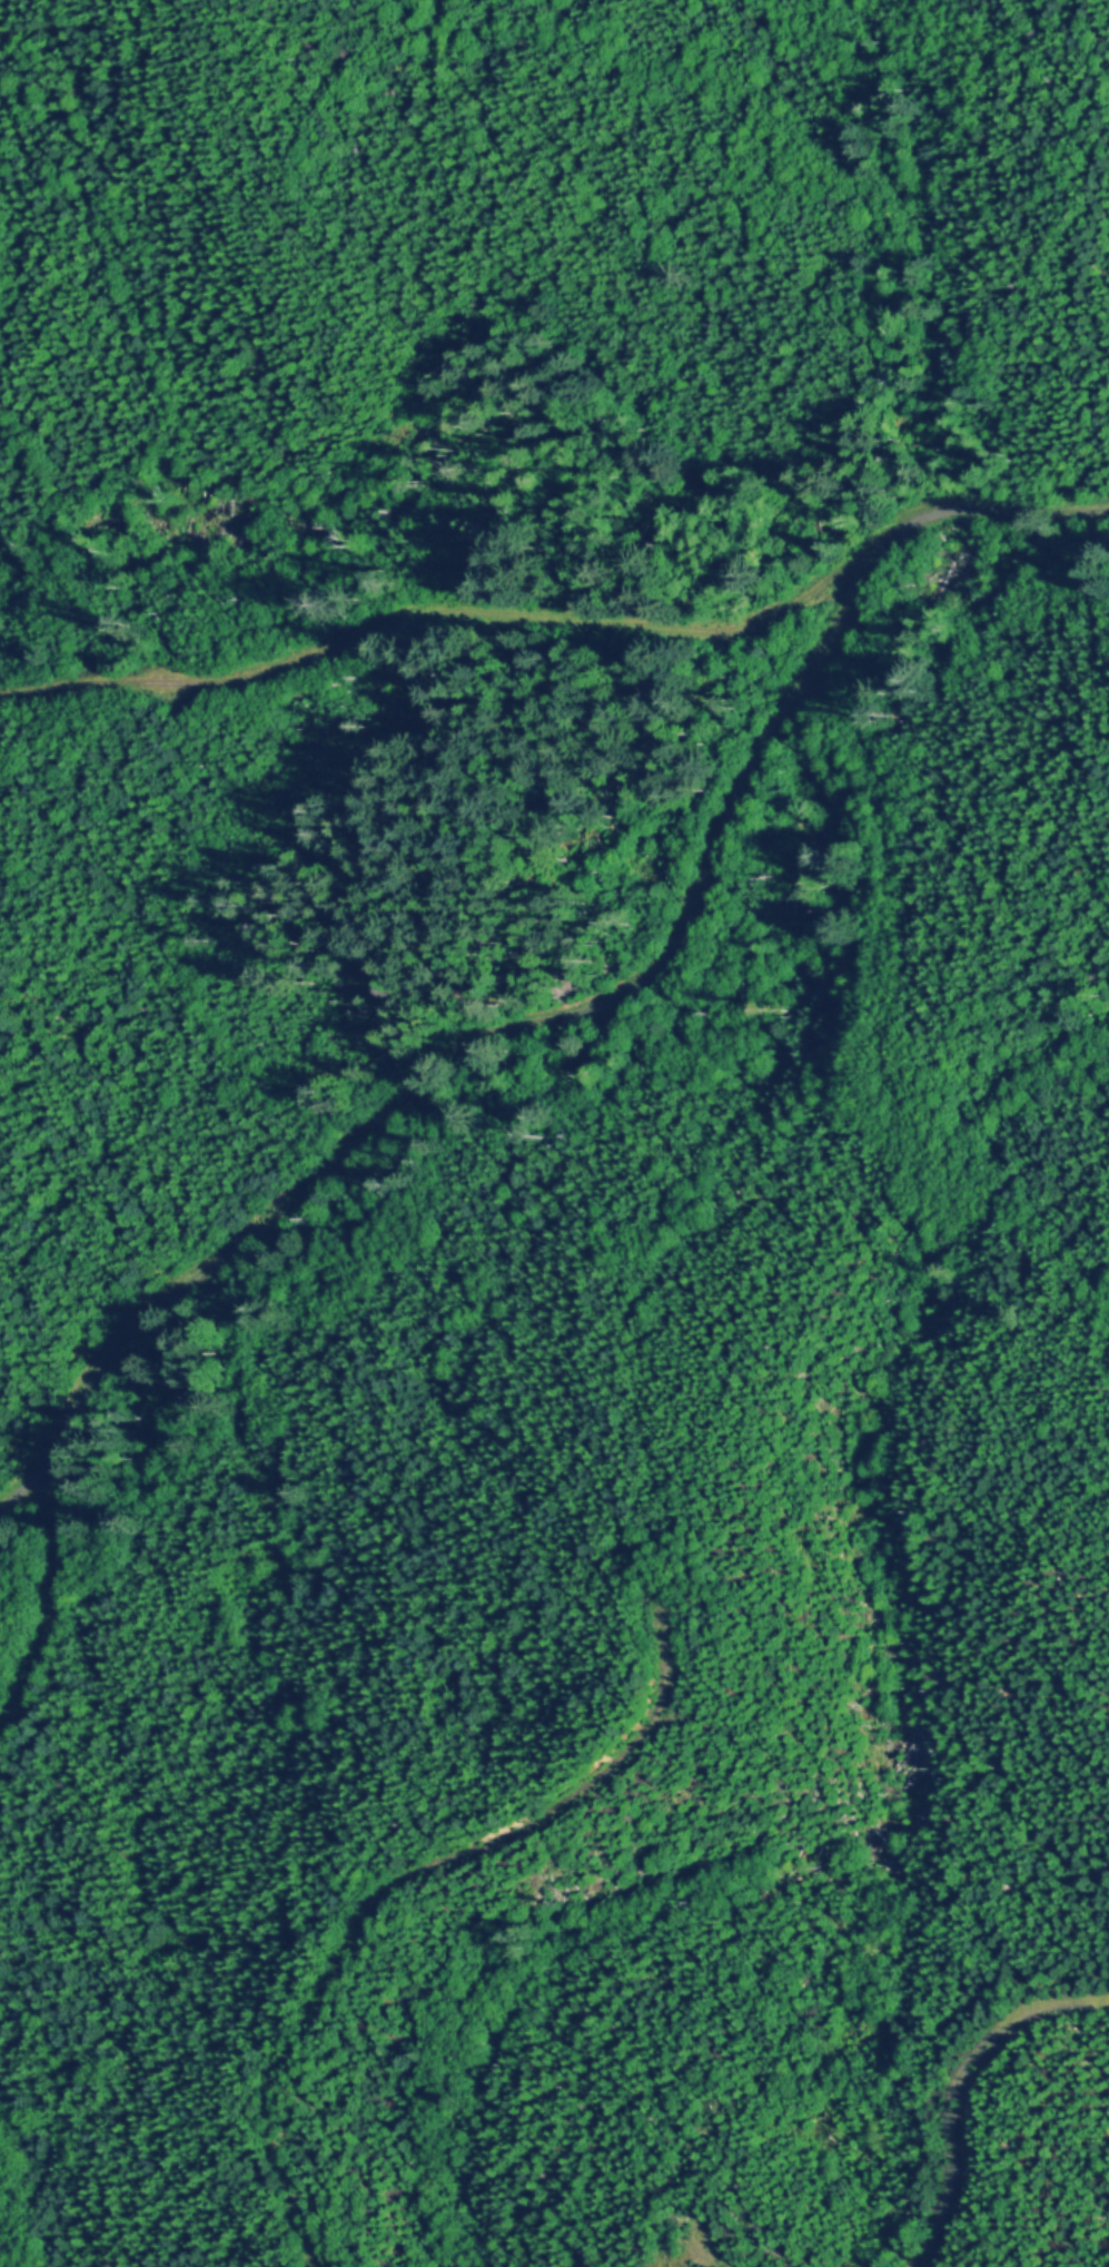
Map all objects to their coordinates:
road: (378, 648)
road: (554, 946)
road: (204, 1729)

